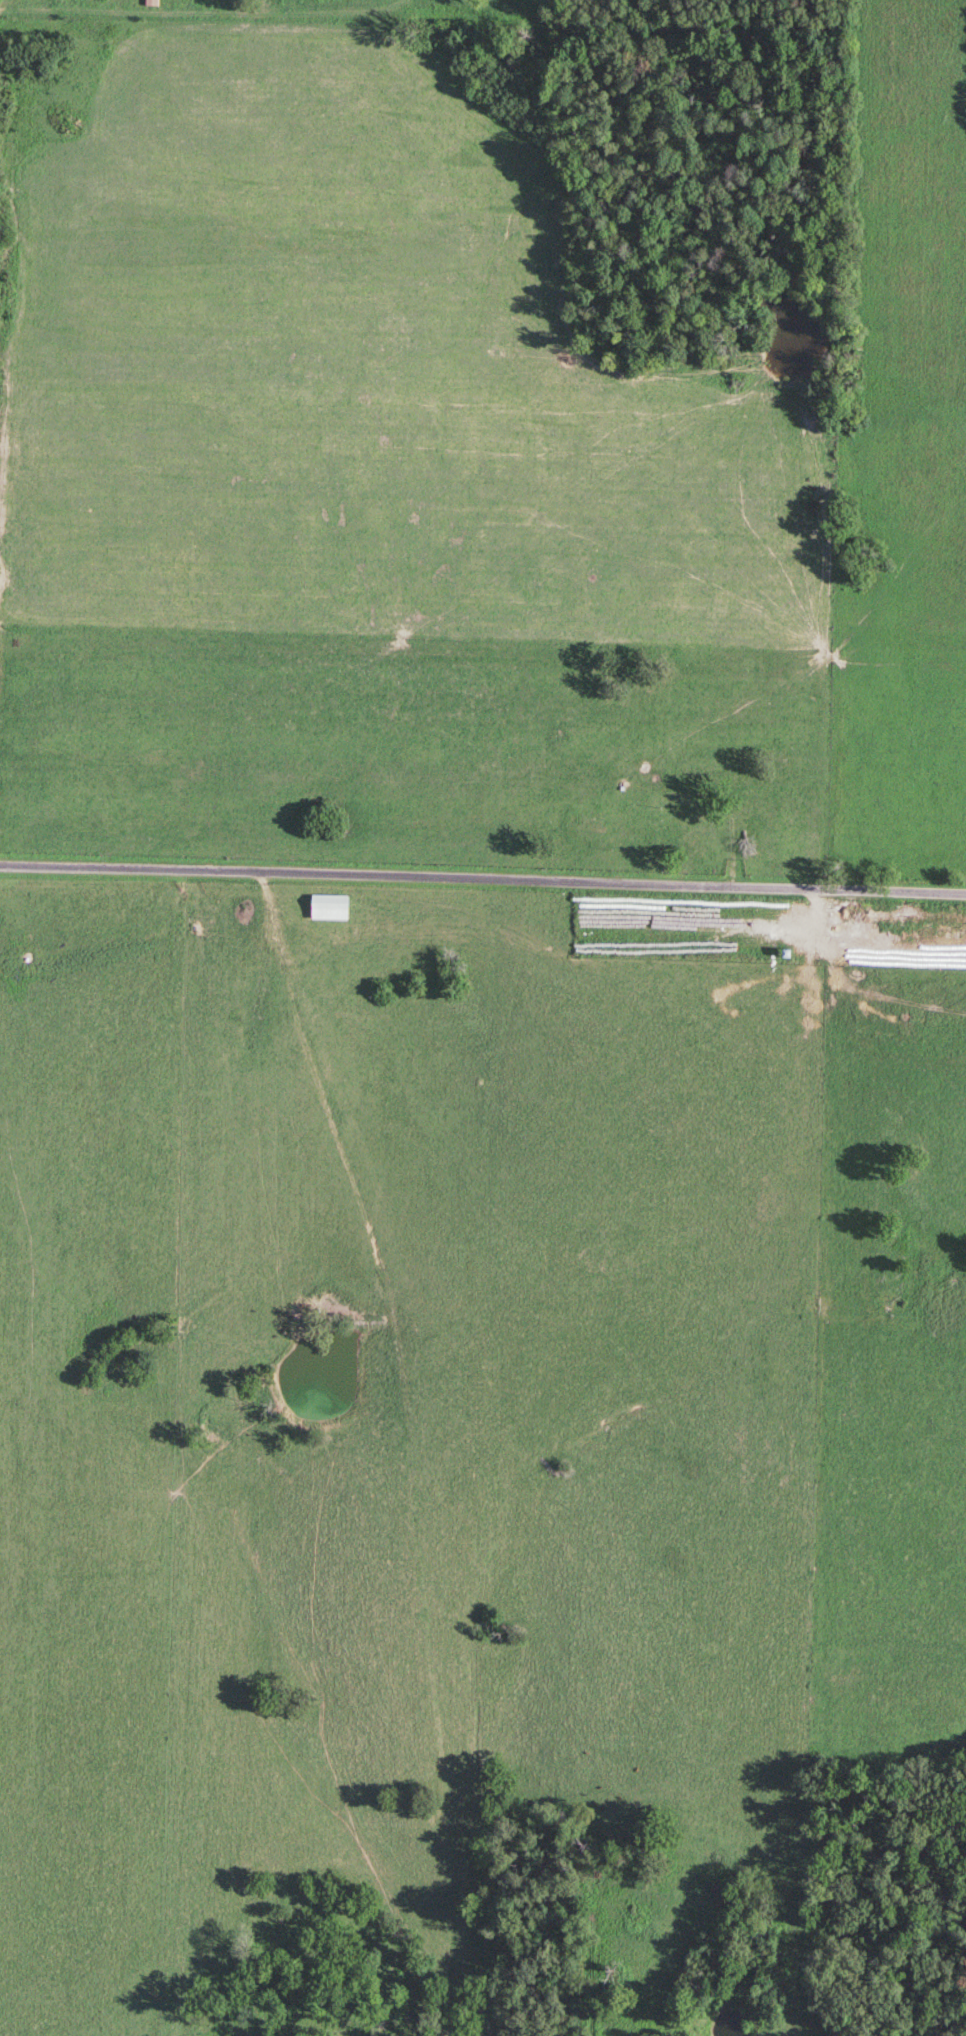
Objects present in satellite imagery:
building: (151, 2)
road: (7, 5)
road: (482, 877)
building: (331, 905)

